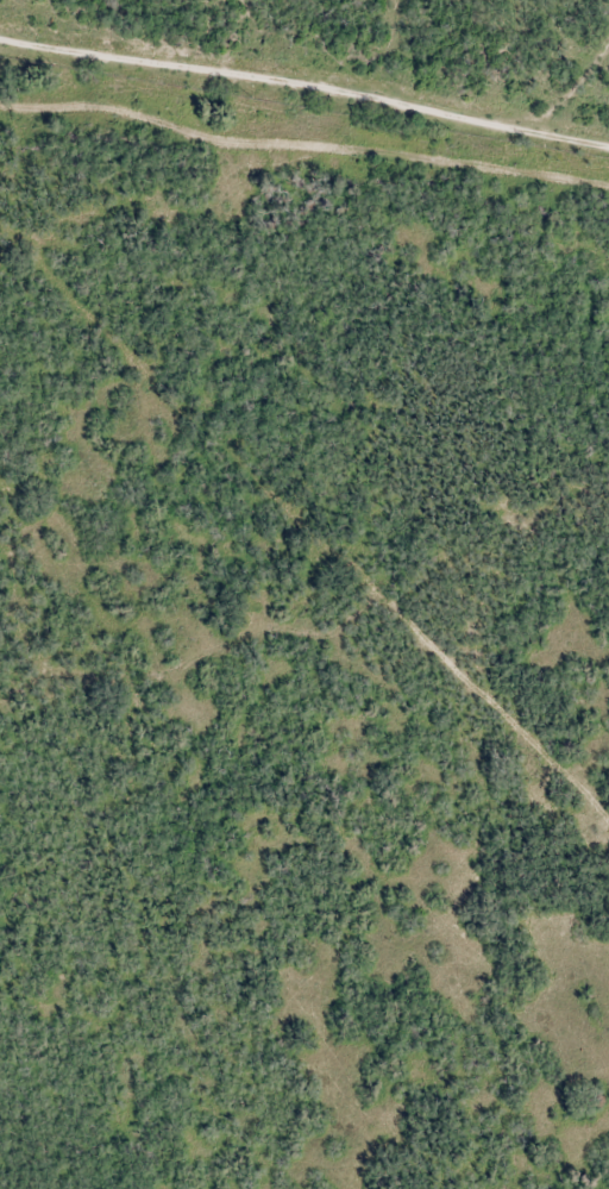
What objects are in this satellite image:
road: (303, 90)

